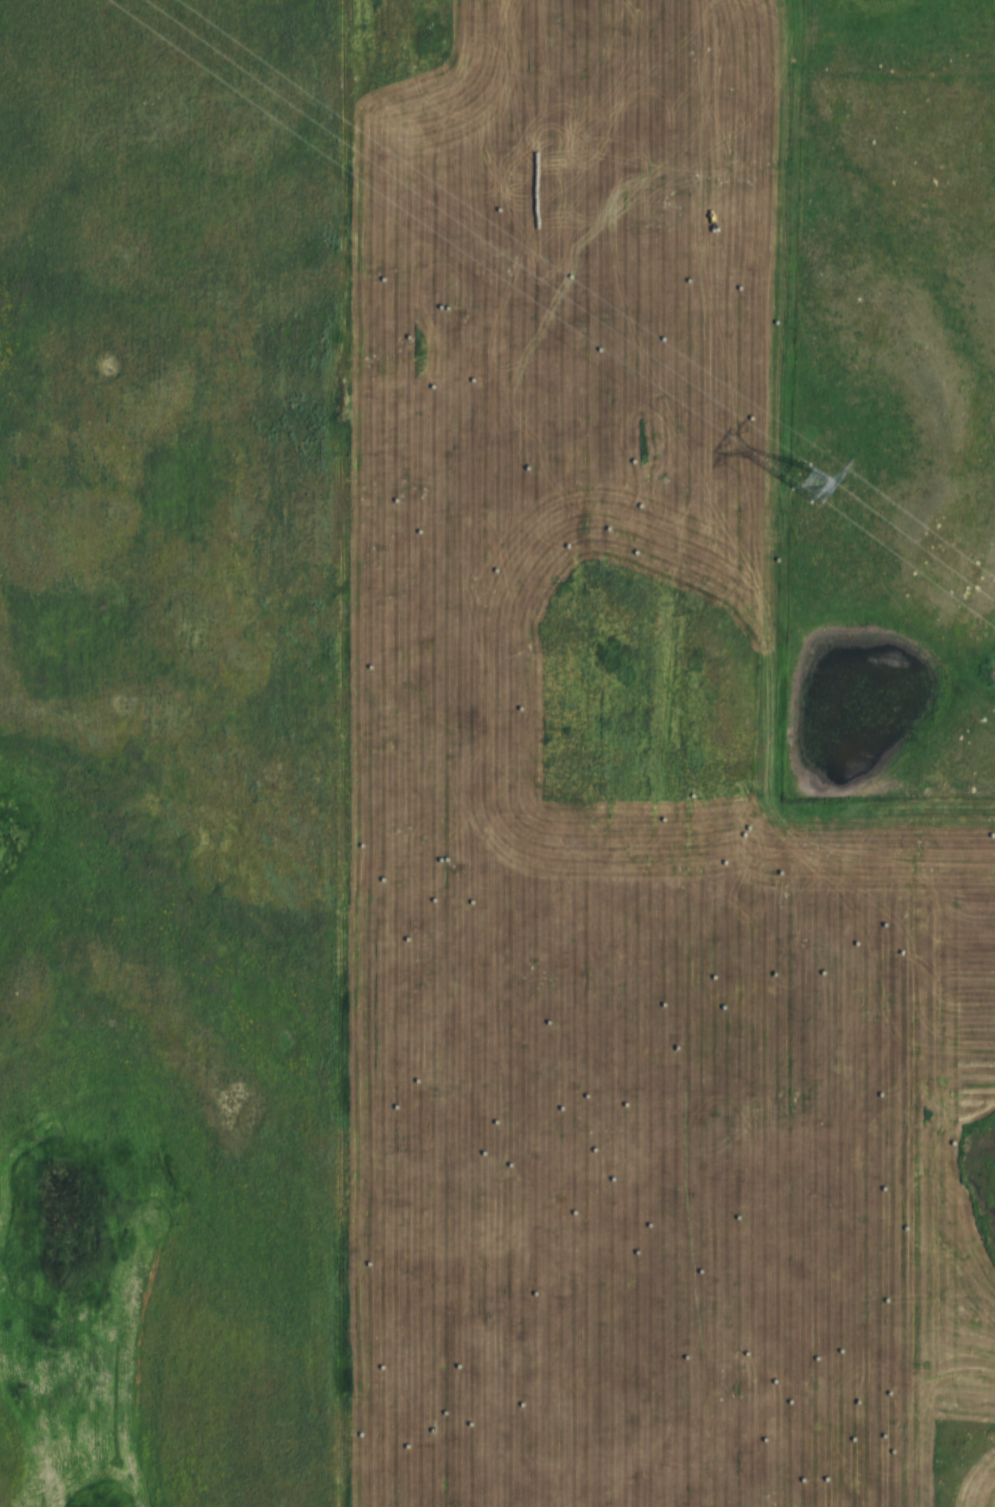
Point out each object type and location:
power tower: (808, 485)

